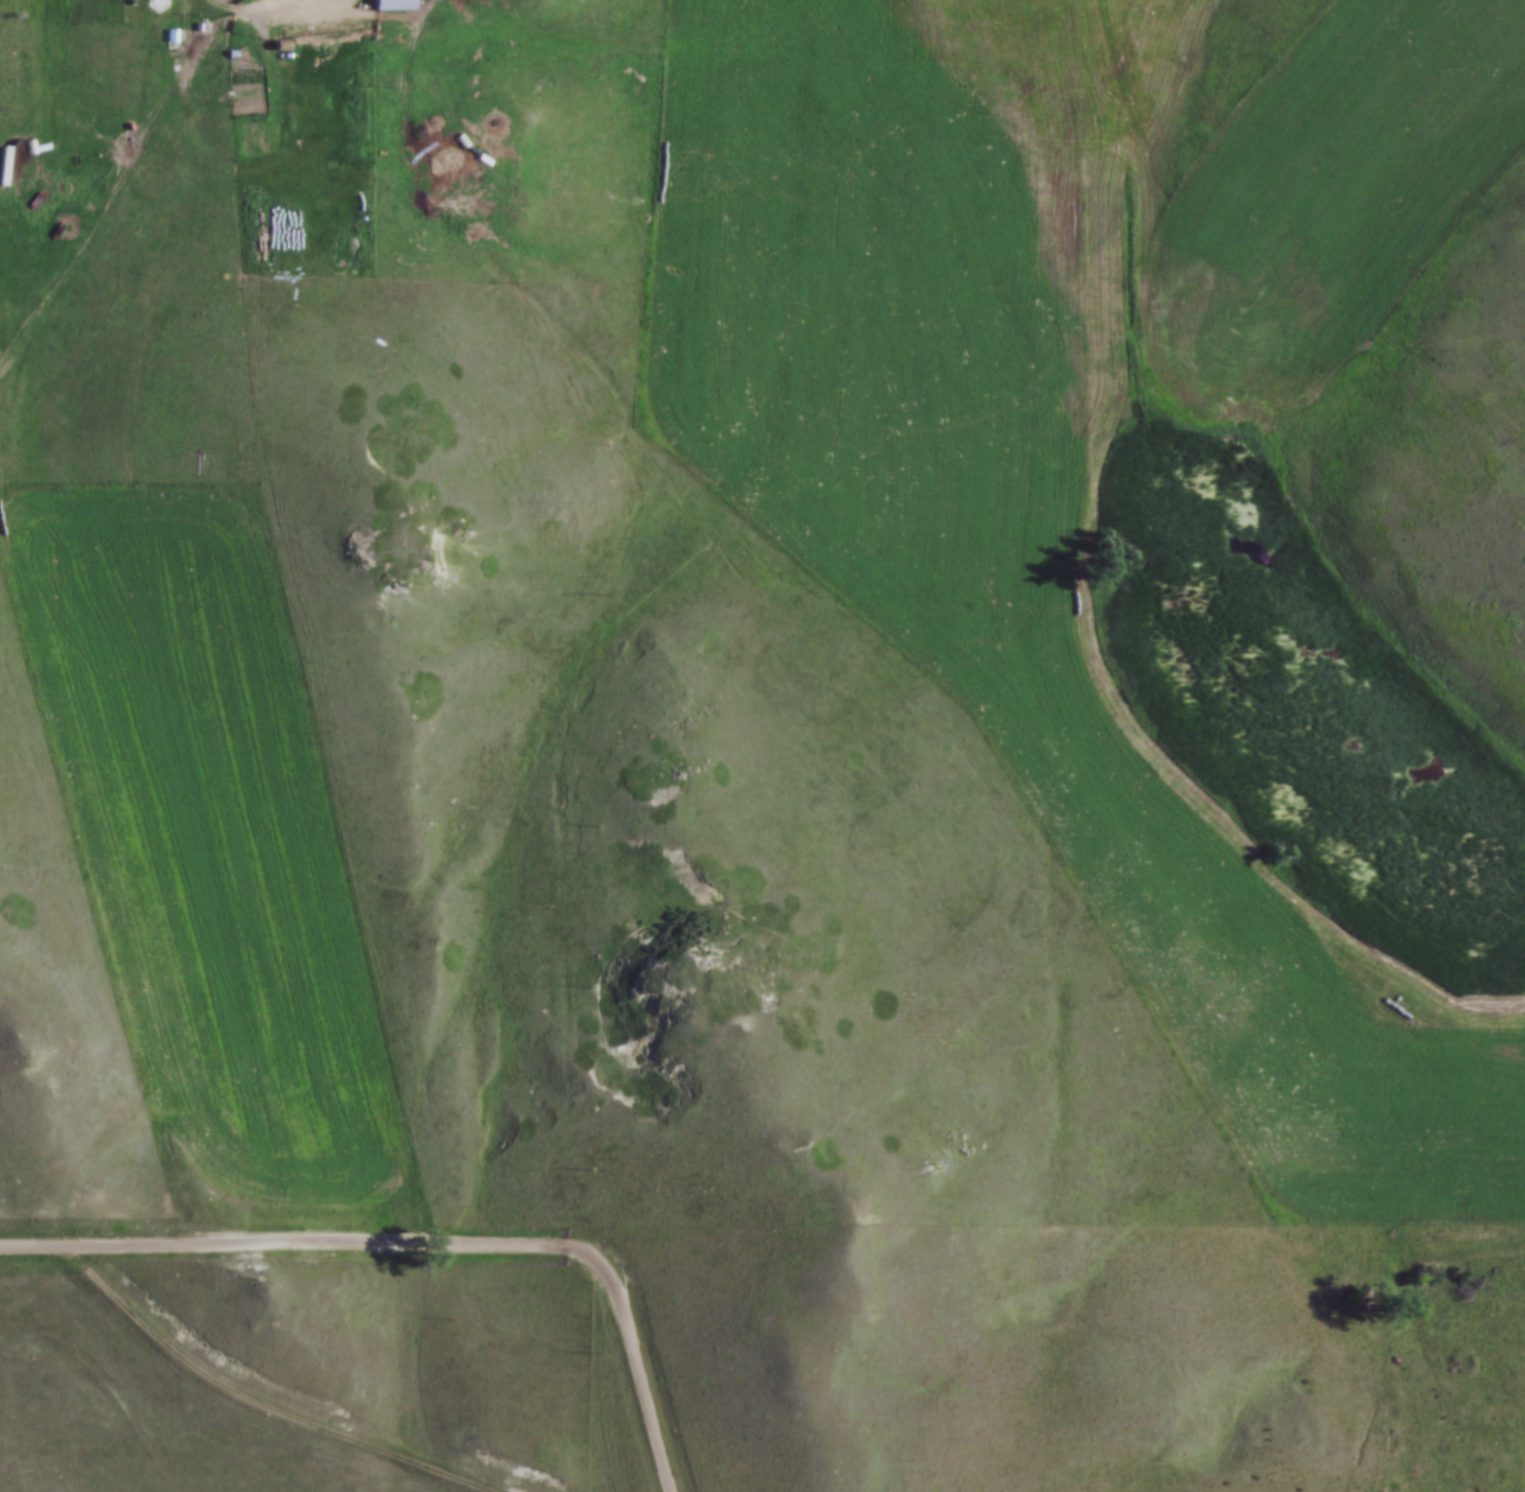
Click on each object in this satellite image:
building: (392, 4)
road: (1109, 63)
road: (424, 1243)
road: (257, 1399)

